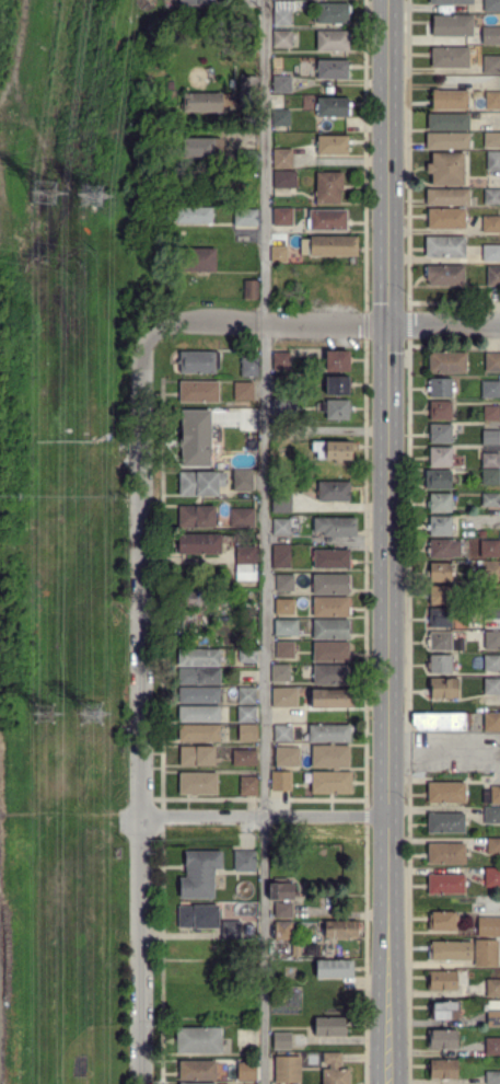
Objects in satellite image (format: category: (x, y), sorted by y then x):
building: (199, 2)
building: (451, 2)
building: (492, 5)
building: (281, 13)
building: (332, 13)
building: (452, 26)
building: (491, 35)
building: (282, 39)
building: (332, 41)
road: (8, 54)
building: (450, 58)
building: (492, 65)
building: (332, 69)
building: (281, 83)
building: (247, 91)
building: (449, 100)
building: (492, 101)
building: (202, 103)
building: (333, 107)
building: (281, 117)
building: (249, 123)
building: (449, 123)
building: (492, 140)
building: (447, 141)
building: (333, 145)
building: (202, 147)
building: (282, 159)
building: (247, 160)
building: (493, 162)
building: (446, 169)
building: (283, 180)
building: (328, 187)
power tower: (49, 188)
building: (447, 197)
building: (492, 197)
power tower: (94, 198)
building: (193, 215)
building: (246, 216)
building: (282, 217)
building: (446, 219)
building: (326, 220)
building: (491, 224)
building: (335, 246)
building: (445, 246)
building: (278, 252)
building: (491, 254)
building: (197, 260)
building: (444, 275)
building: (493, 277)
building: (251, 289)
building: (277, 309)
road: (264, 324)
road: (445, 324)
building: (281, 360)
building: (198, 361)
building: (337, 361)
building: (446, 362)
building: (492, 362)
building: (249, 366)
building: (281, 383)
building: (336, 387)
building: (440, 387)
building: (490, 389)
building: (198, 391)
building: (243, 391)
building: (280, 405)
building: (335, 410)
building: (440, 410)
building: (490, 413)
building: (191, 418)
building: (243, 418)
building: (279, 433)
building: (439, 434)
building: (490, 437)
building: (332, 449)
building: (440, 457)
building: (490, 460)
building: (490, 476)
building: (242, 478)
building: (438, 480)
building: (198, 483)
building: (334, 491)
building: (490, 499)
building: (284, 501)
building: (440, 503)
building: (196, 517)
building: (242, 518)
building: (280, 526)
building: (440, 526)
building: (335, 527)
road: (264, 541)
road: (391, 541)
building: (200, 544)
building: (443, 549)
building: (489, 549)
building: (246, 551)
building: (281, 555)
building: (332, 558)
building: (246, 569)
building: (491, 570)
building: (440, 572)
building: (284, 583)
building: (329, 585)
building: (490, 591)
building: (439, 595)
building: (190, 597)
building: (284, 607)
building: (330, 607)
building: (492, 612)
building: (441, 618)
building: (284, 627)
building: (329, 629)
building: (492, 639)
building: (443, 642)
building: (252, 643)
building: (284, 649)
building: (329, 653)
building: (247, 656)
building: (199, 657)
building: (492, 662)
building: (439, 664)
building: (280, 672)
building: (329, 674)
building: (199, 677)
building: (492, 685)
building: (443, 688)
building: (199, 695)
building: (246, 695)
building: (284, 697)
building: (333, 697)
power tower: (93, 708)
road: (140, 710)
power tower: (51, 712)
building: (199, 714)
building: (246, 714)
building: (441, 720)
building: (491, 722)
building: (247, 733)
building: (282, 733)
building: (199, 734)
building: (329, 734)
building: (197, 756)
building: (330, 756)
building: (287, 757)
building: (244, 758)
building: (281, 781)
building: (330, 782)
building: (198, 783)
building: (248, 785)
building: (446, 793)
building: (495, 795)
building: (492, 815)
road: (266, 817)
building: (445, 822)
building: (493, 846)
building: (445, 853)
building: (248, 862)
building: (204, 874)
building: (492, 877)
building: (445, 884)
building: (281, 891)
building: (282, 910)
building: (198, 916)
building: (442, 921)
building: (488, 925)
building: (233, 927)
building: (341, 930)
building: (282, 931)
building: (445, 950)
building: (485, 953)
building: (334, 968)
building: (442, 980)
building: (492, 988)
building: (443, 1010)
building: (493, 1013)
building: (329, 1026)
building: (246, 1037)
building: (441, 1039)
building: (198, 1040)
building: (281, 1040)
building: (493, 1047)
building: (287, 1068)
building: (442, 1069)
building: (197, 1070)
building: (334, 1070)
building: (220, 1071)
building: (247, 1072)
building: (492, 1077)
building: (197, 1082)

